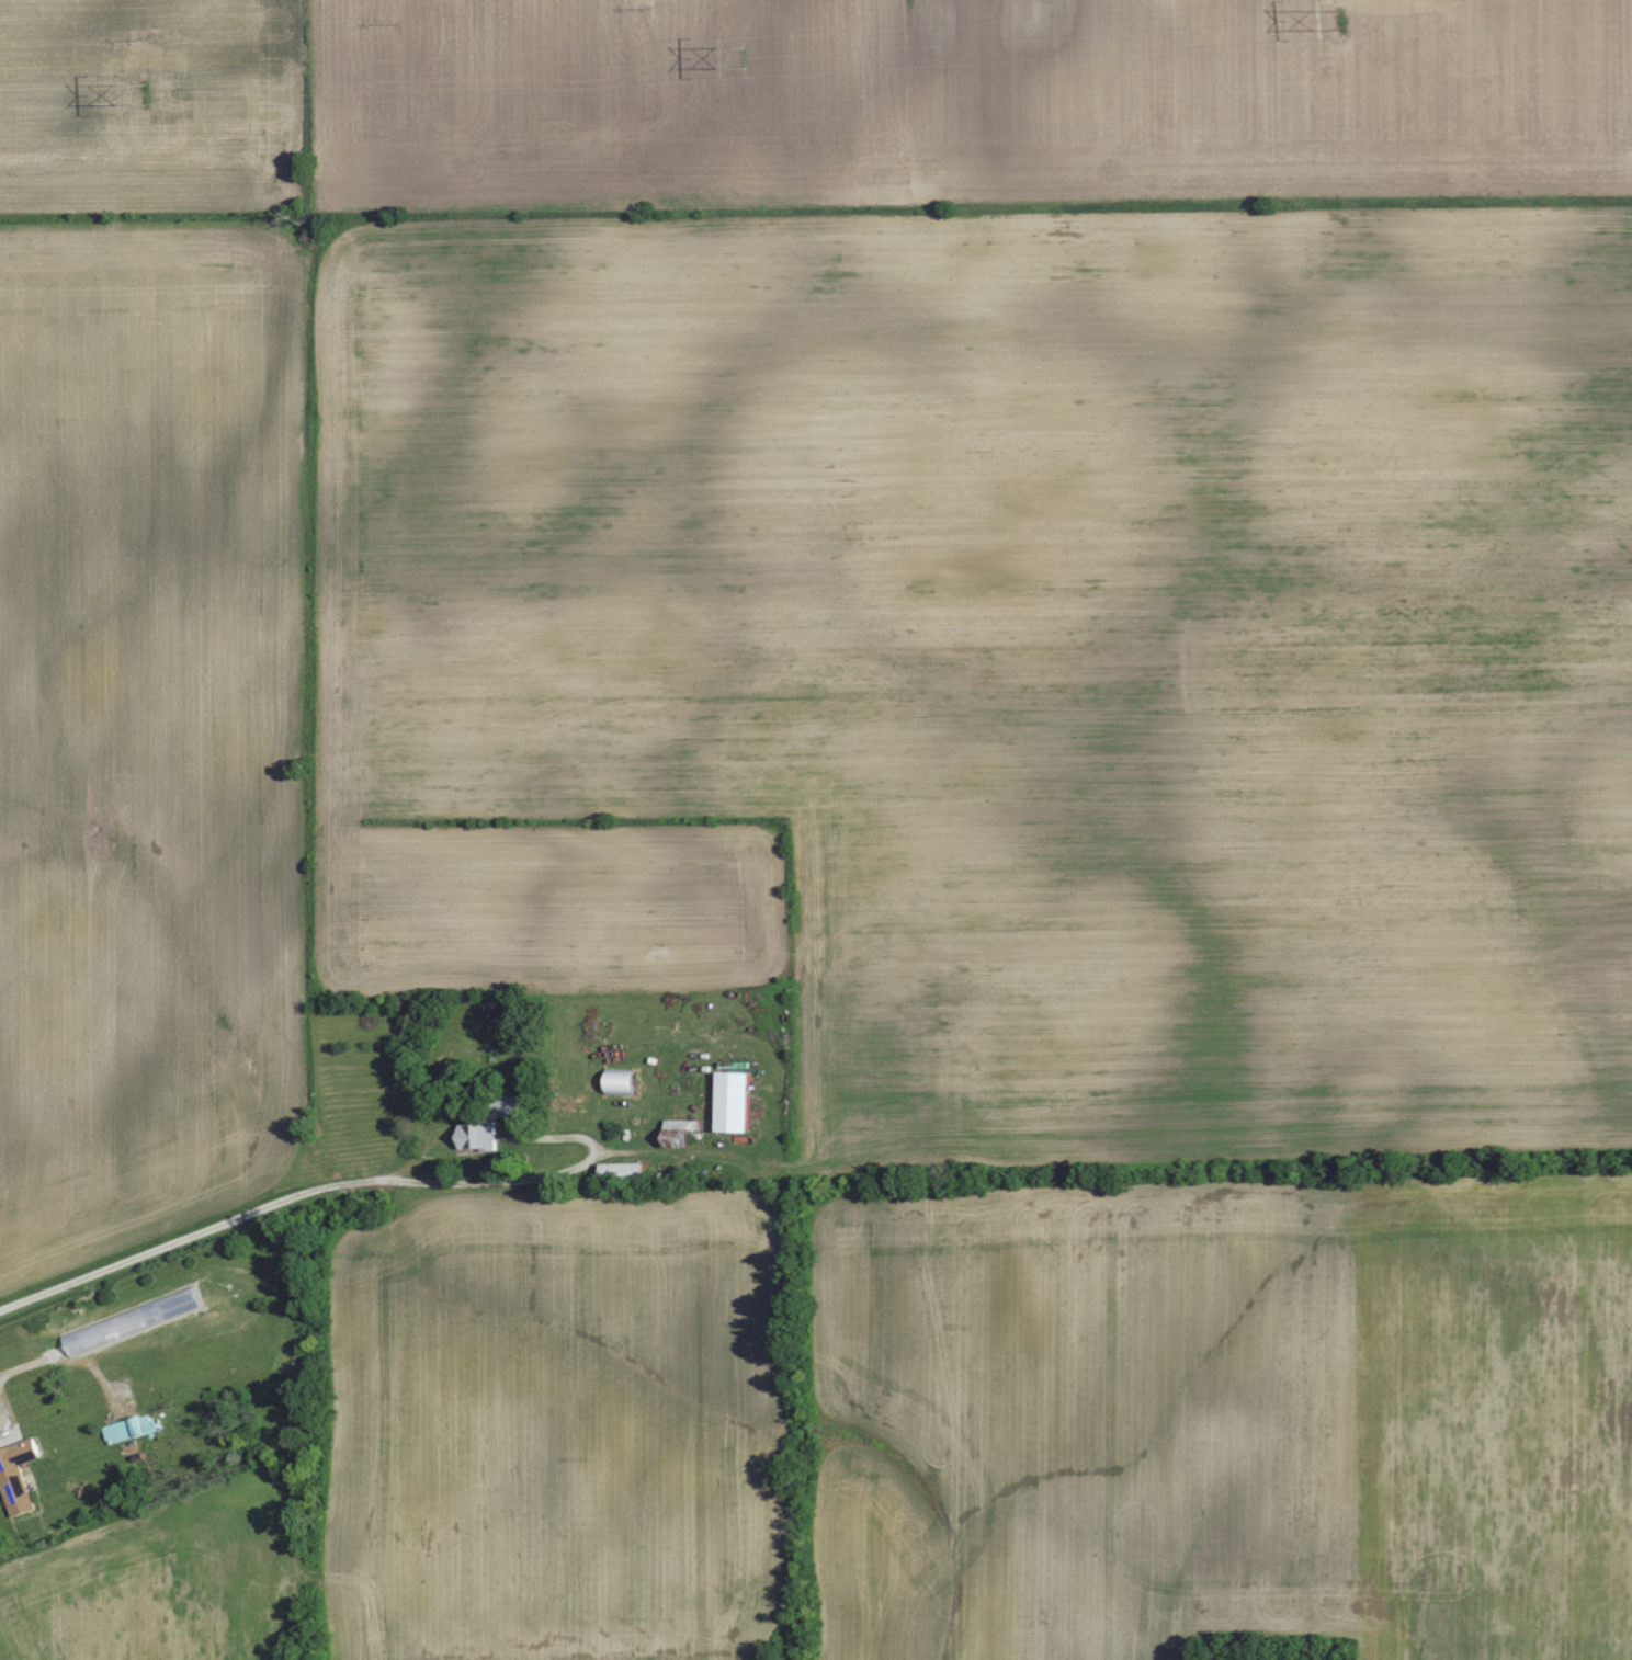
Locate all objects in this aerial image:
power tower: (1342, 15)
power tower: (744, 55)
power tower: (146, 93)
building: (623, 1082)
building: (736, 1102)
building: (510, 1106)
building: (479, 1135)
building: (625, 1170)
road: (279, 1202)
road: (70, 1355)
building: (132, 1429)
building: (18, 1476)

